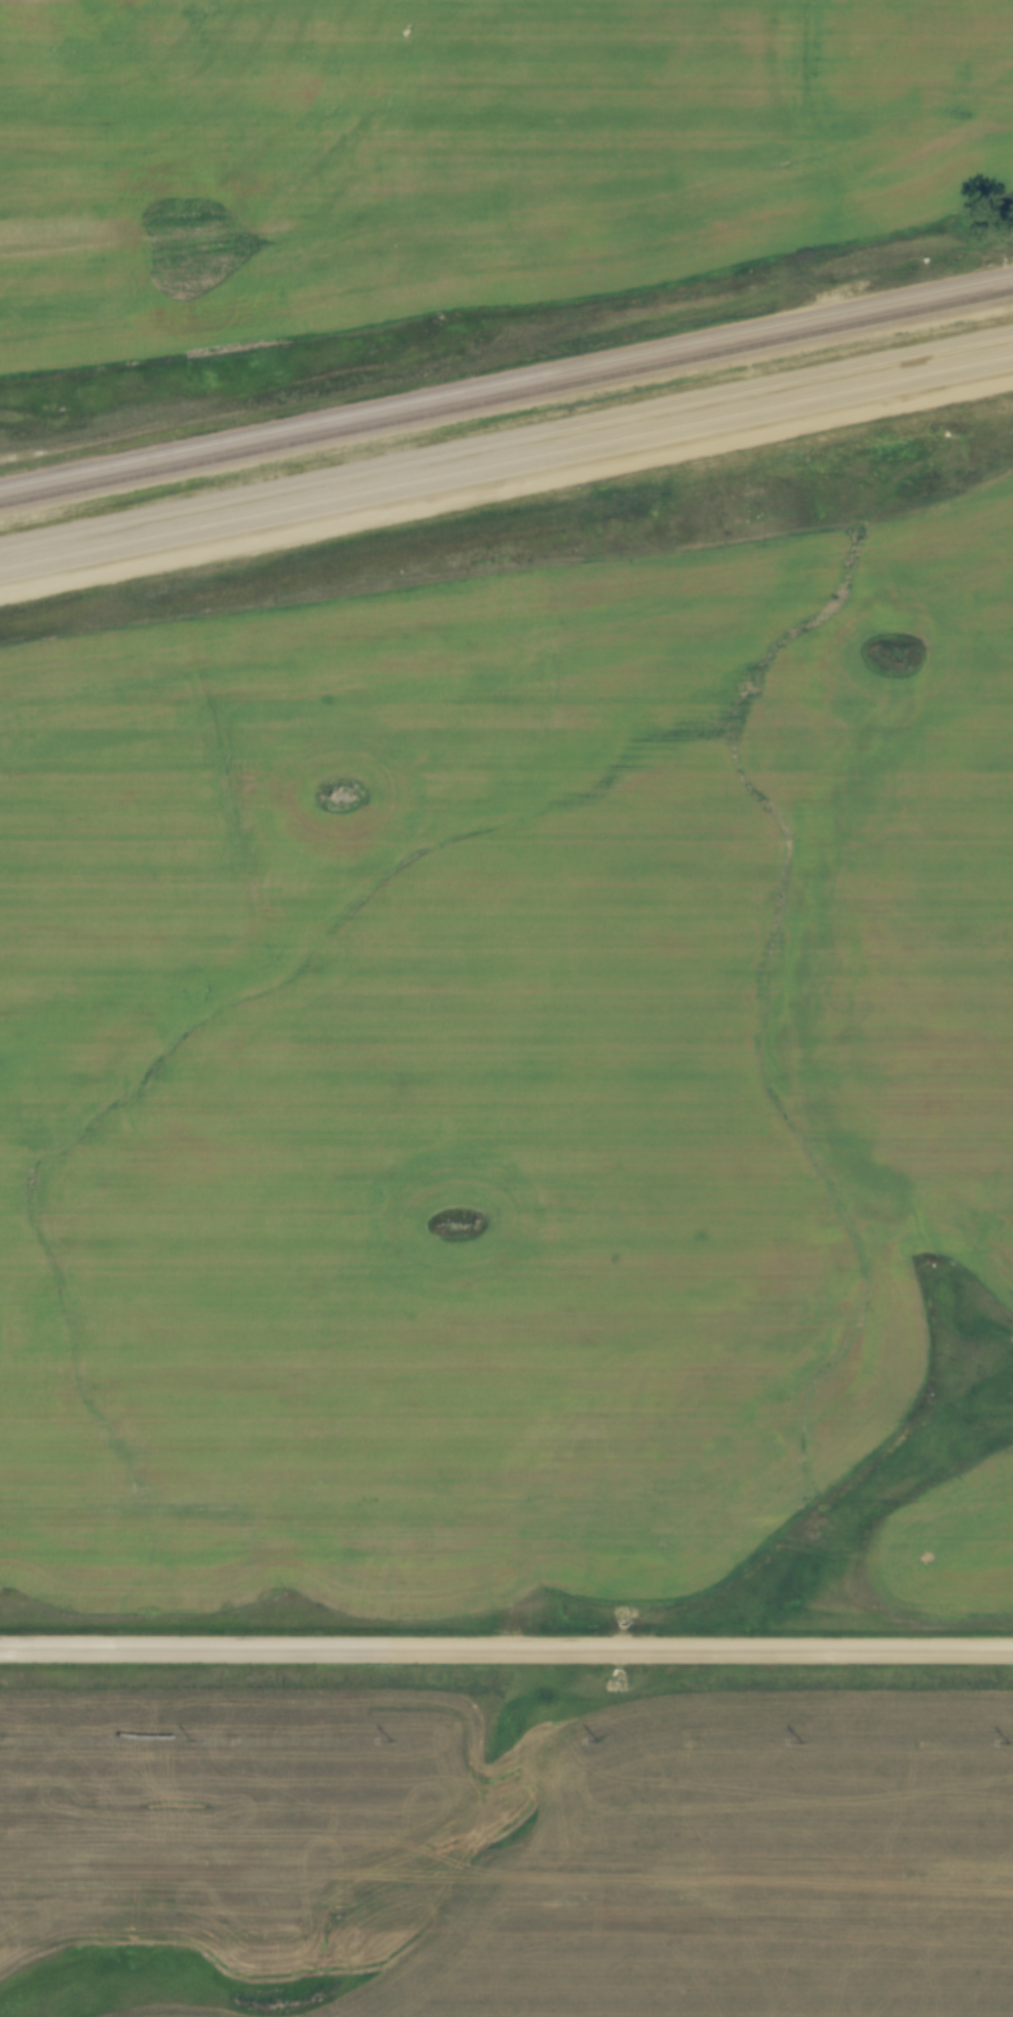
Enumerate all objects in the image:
railway: (506, 377)
railway: (506, 394)
railway: (506, 434)
railway: (506, 452)
railway: (506, 469)
road: (506, 1650)

